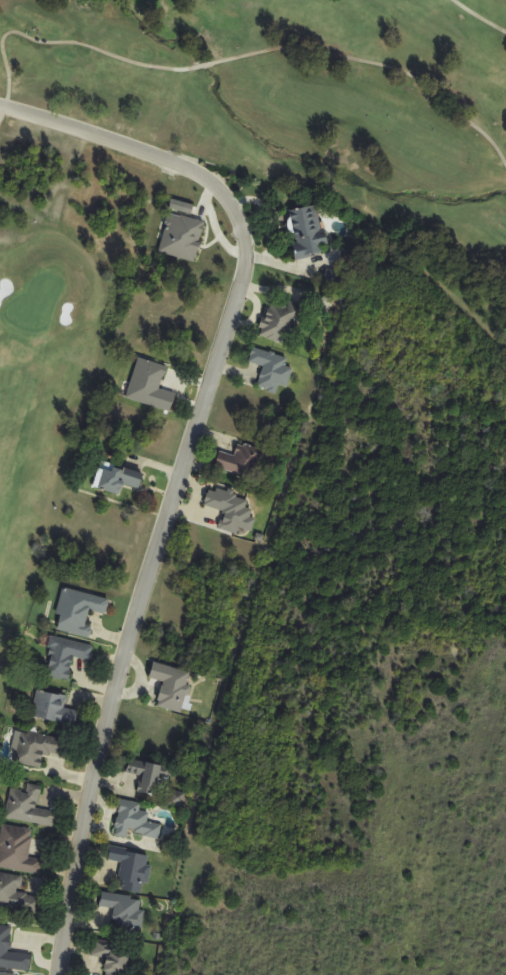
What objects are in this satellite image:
road: (481, 15)
road: (58, 40)
road: (375, 62)
building: (308, 232)
building: (180, 235)
building: (281, 322)
building: (272, 370)
building: (151, 383)
building: (244, 463)
road: (180, 466)
building: (117, 482)
park: (31, 519)
building: (79, 610)
building: (65, 660)
building: (172, 686)
building: (52, 706)
building: (40, 753)
building: (149, 776)
building: (31, 800)
building: (136, 822)
building: (24, 847)
building: (132, 870)
building: (17, 898)
building: (125, 912)
building: (17, 945)
building: (113, 957)
building: (13, 972)

